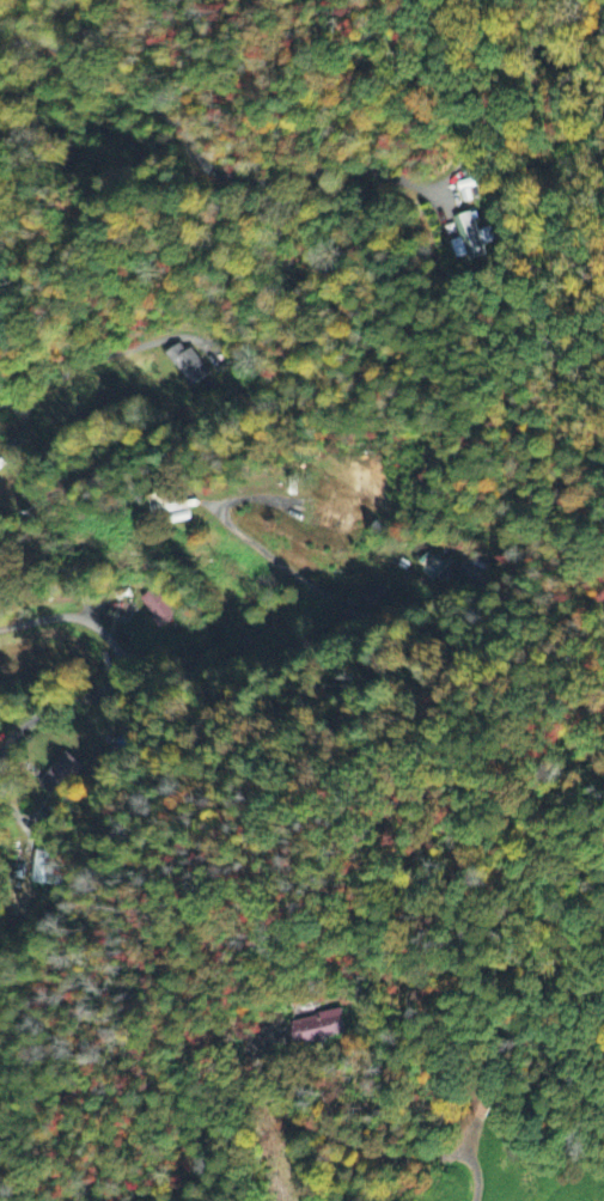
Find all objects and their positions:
road: (202, 161)
building: (470, 238)
road: (110, 352)
building: (185, 365)
building: (169, 505)
building: (433, 567)
road: (423, 605)
building: (155, 608)
road: (179, 663)
building: (59, 776)
building: (44, 867)
building: (317, 1029)
building: (581, 1181)
parking lot: (587, 1197)

